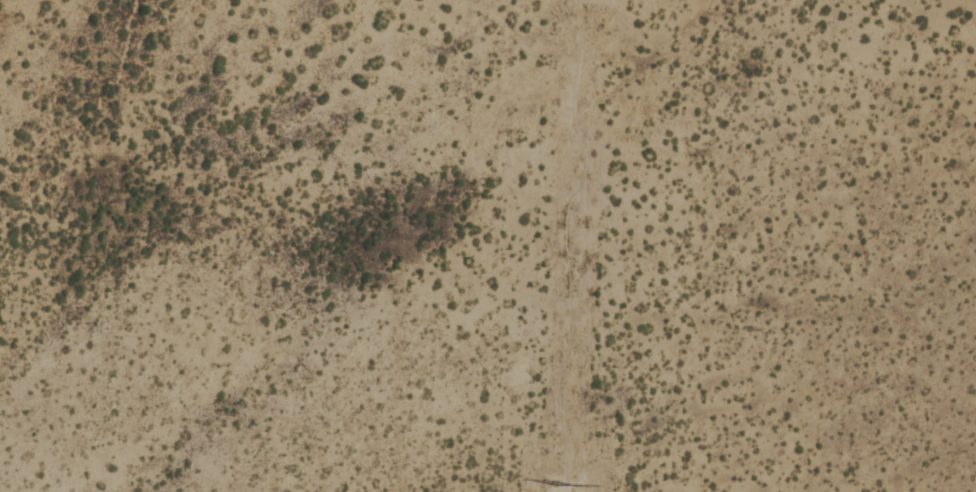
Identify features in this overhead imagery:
power tower: (561, 485)

